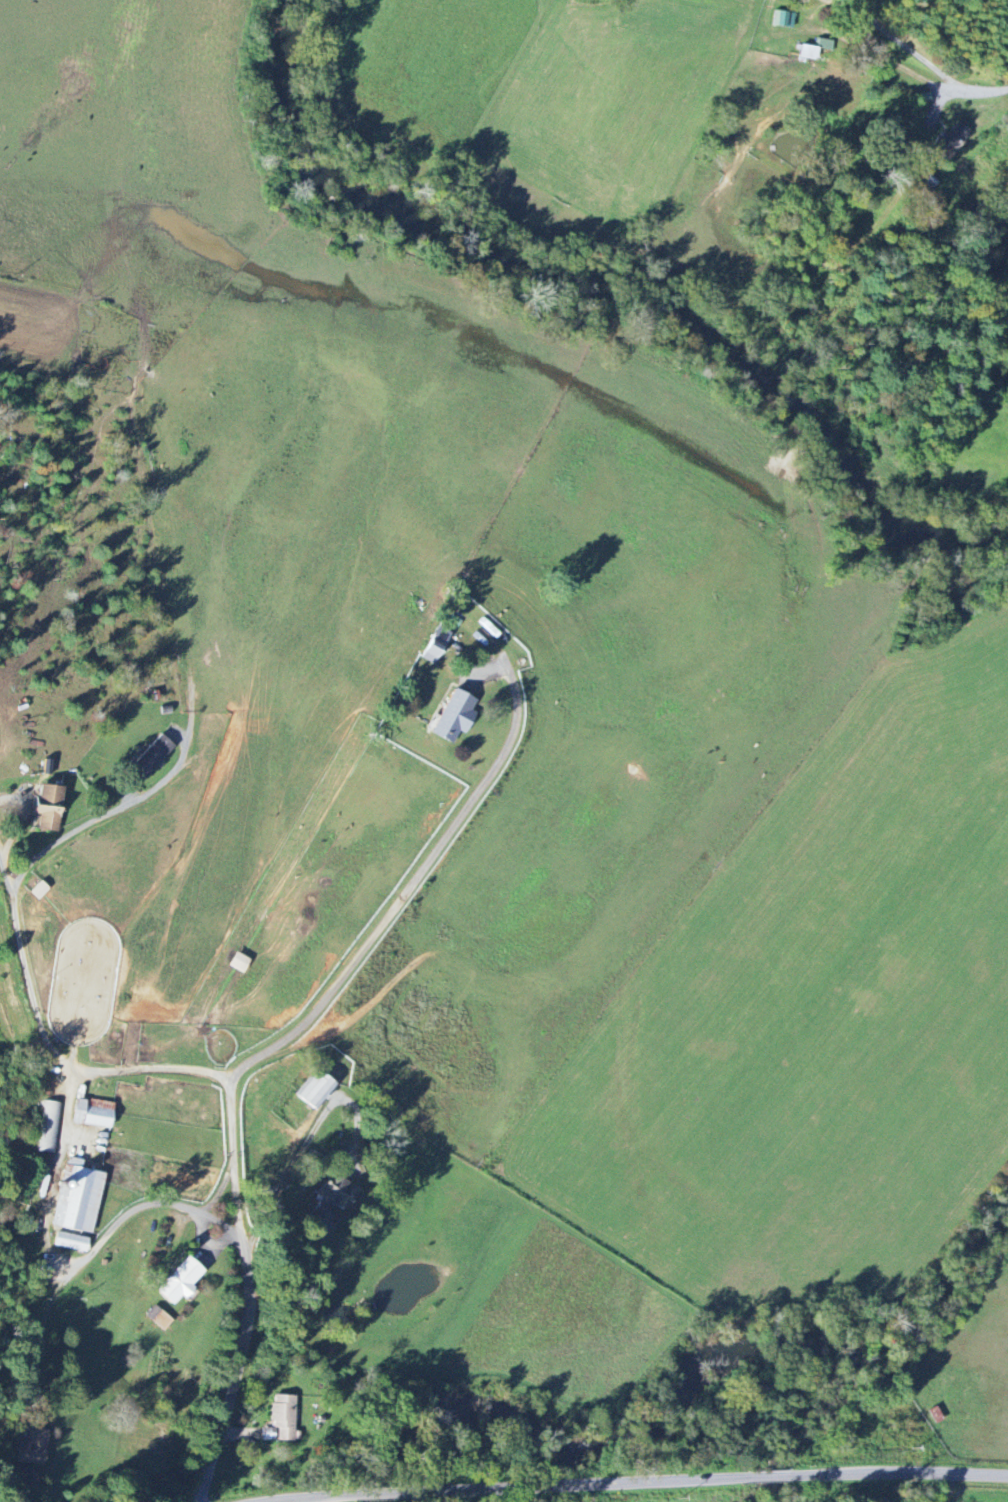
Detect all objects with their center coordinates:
road: (909, 49)
building: (808, 53)
road: (974, 92)
building: (958, 136)
river: (602, 302)
building: (437, 645)
building: (457, 716)
building: (154, 756)
building: (49, 808)
road: (7, 876)
road: (408, 891)
road: (17, 931)
building: (315, 1089)
building: (94, 1113)
building: (48, 1127)
road: (308, 1140)
building: (336, 1197)
building: (71, 1242)
road: (63, 1260)
building: (180, 1282)
road: (248, 1295)
building: (158, 1318)
river: (699, 1393)
building: (936, 1415)
building: (282, 1420)
park: (3, 1427)
building: (35, 1449)
road: (711, 1476)
road: (381, 1491)
road: (309, 1497)

